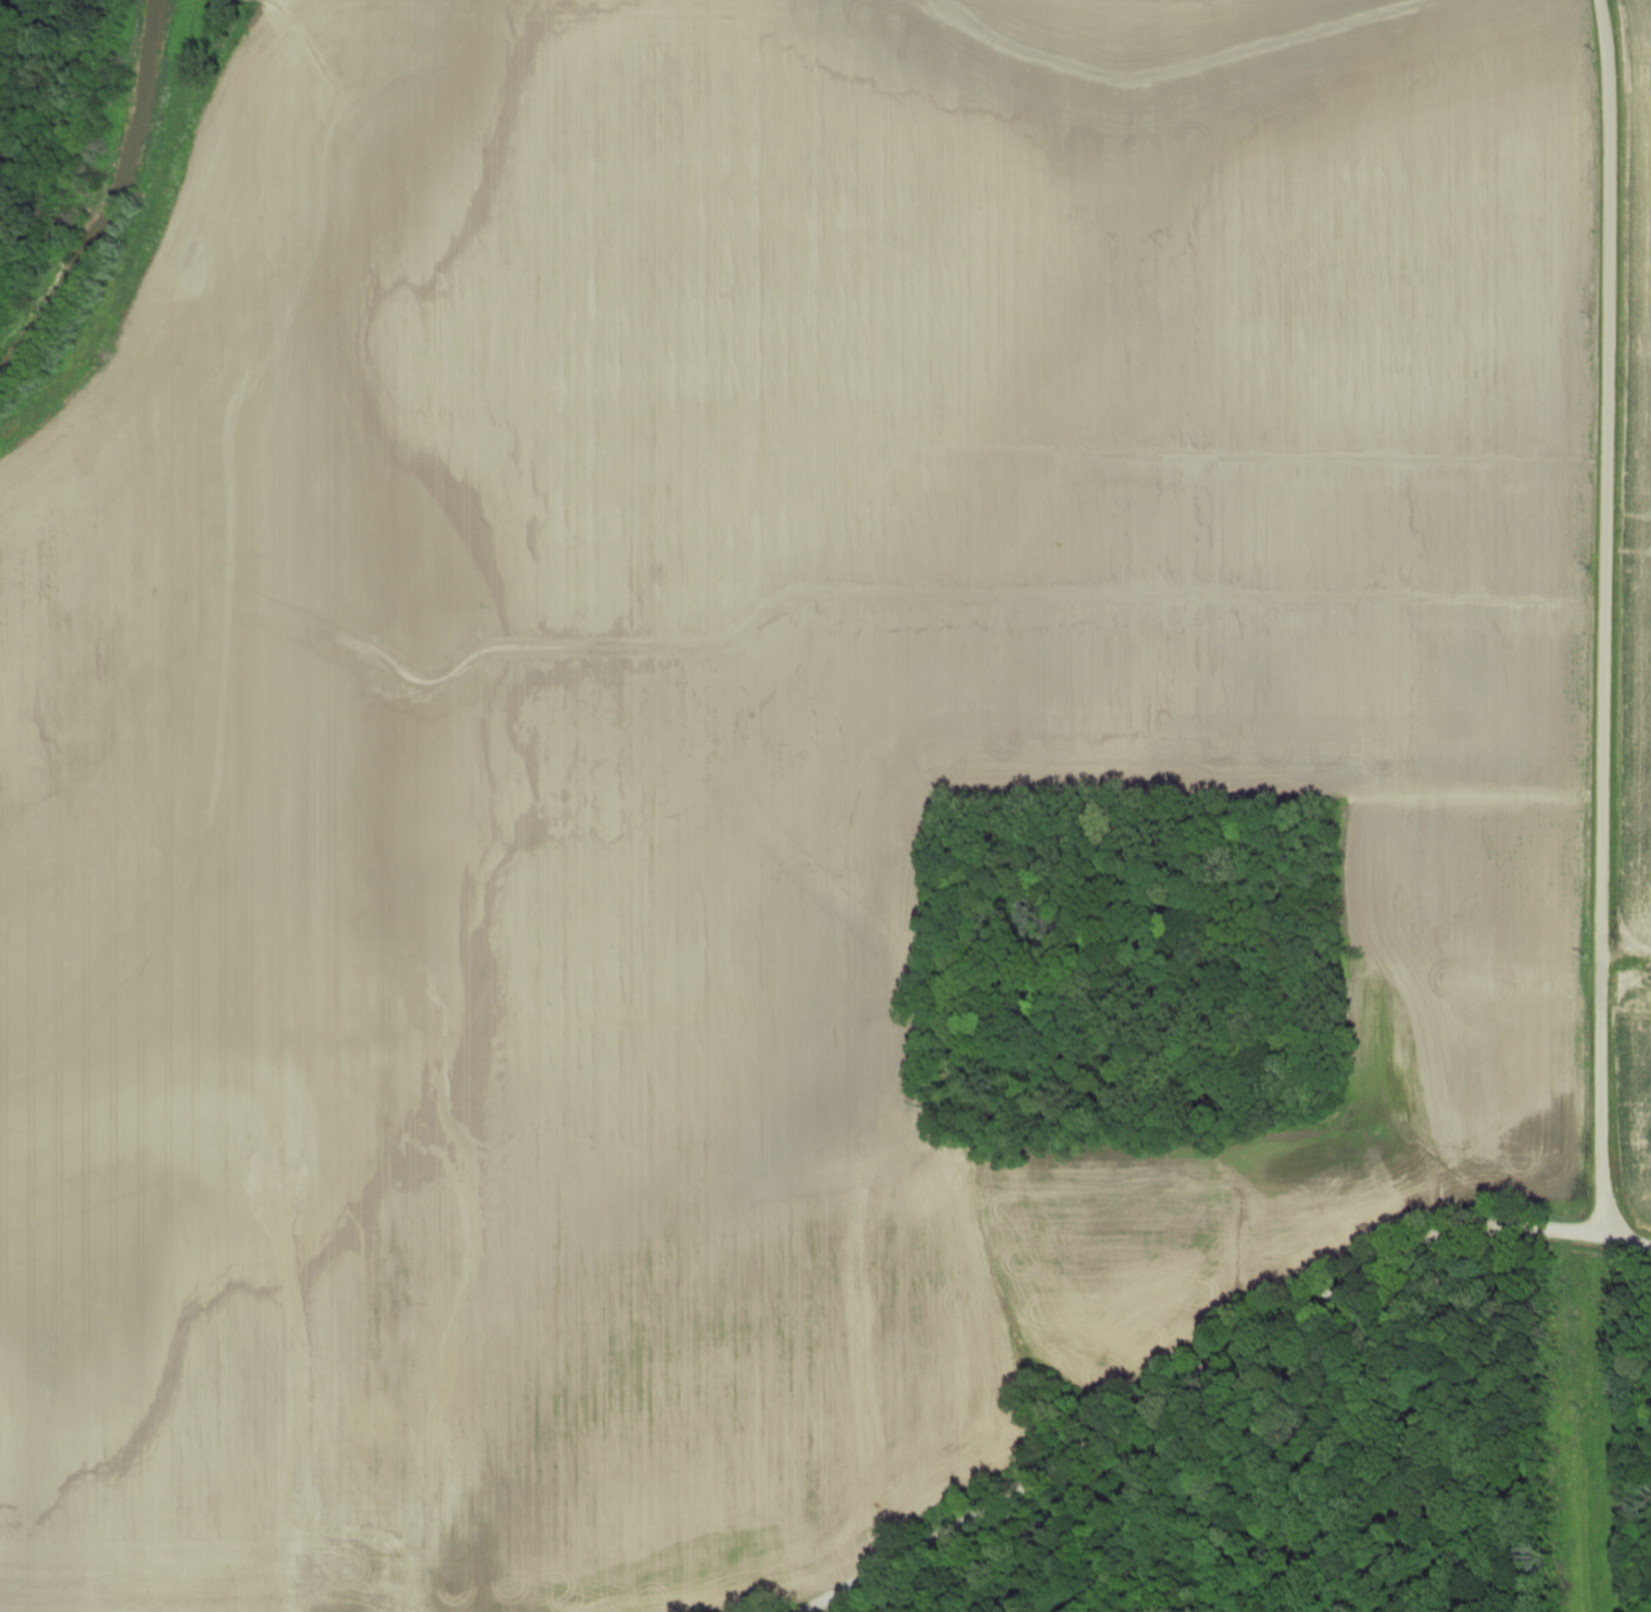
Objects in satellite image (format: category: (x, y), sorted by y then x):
river: (118, 206)
road: (1612, 620)
road: (1634, 1245)
road: (1194, 1377)

